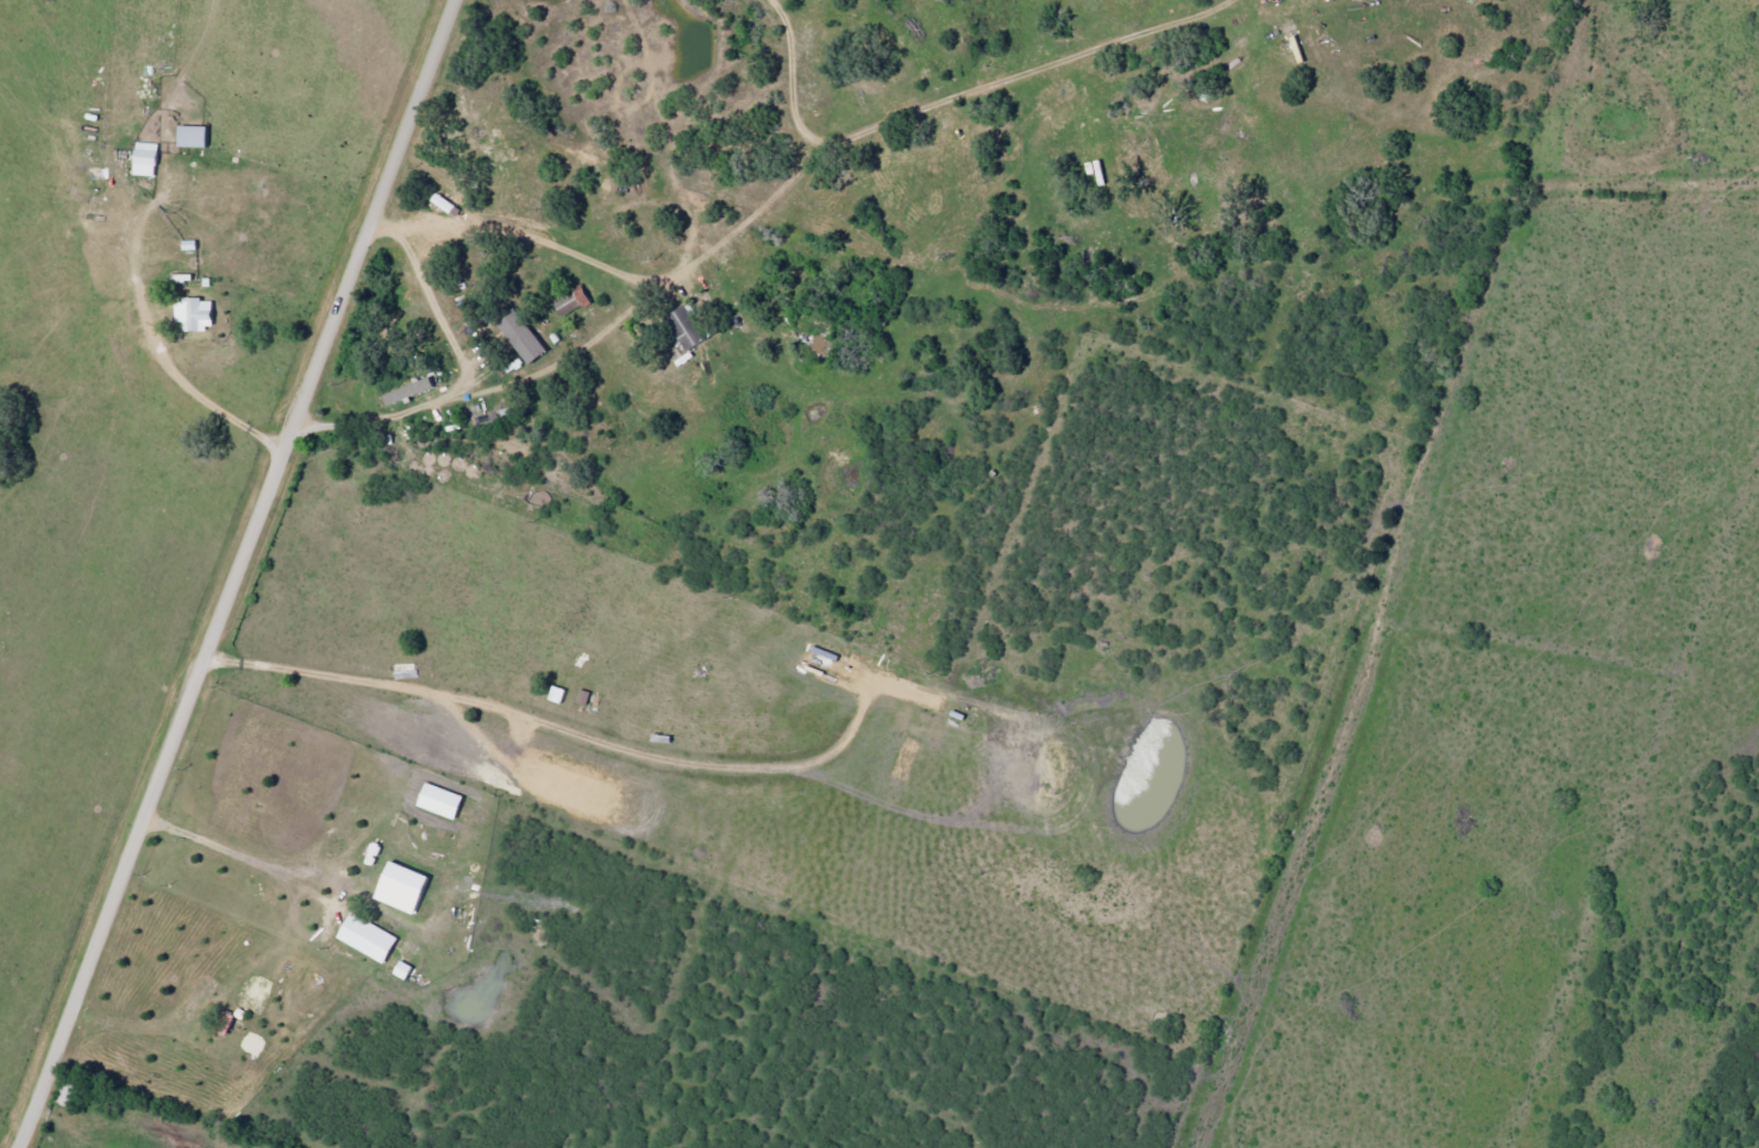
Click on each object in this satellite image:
building: (196, 136)
building: (148, 158)
building: (570, 301)
building: (681, 327)
building: (519, 334)
building: (405, 390)
road: (239, 575)
building: (444, 799)
building: (370, 937)
building: (406, 970)

